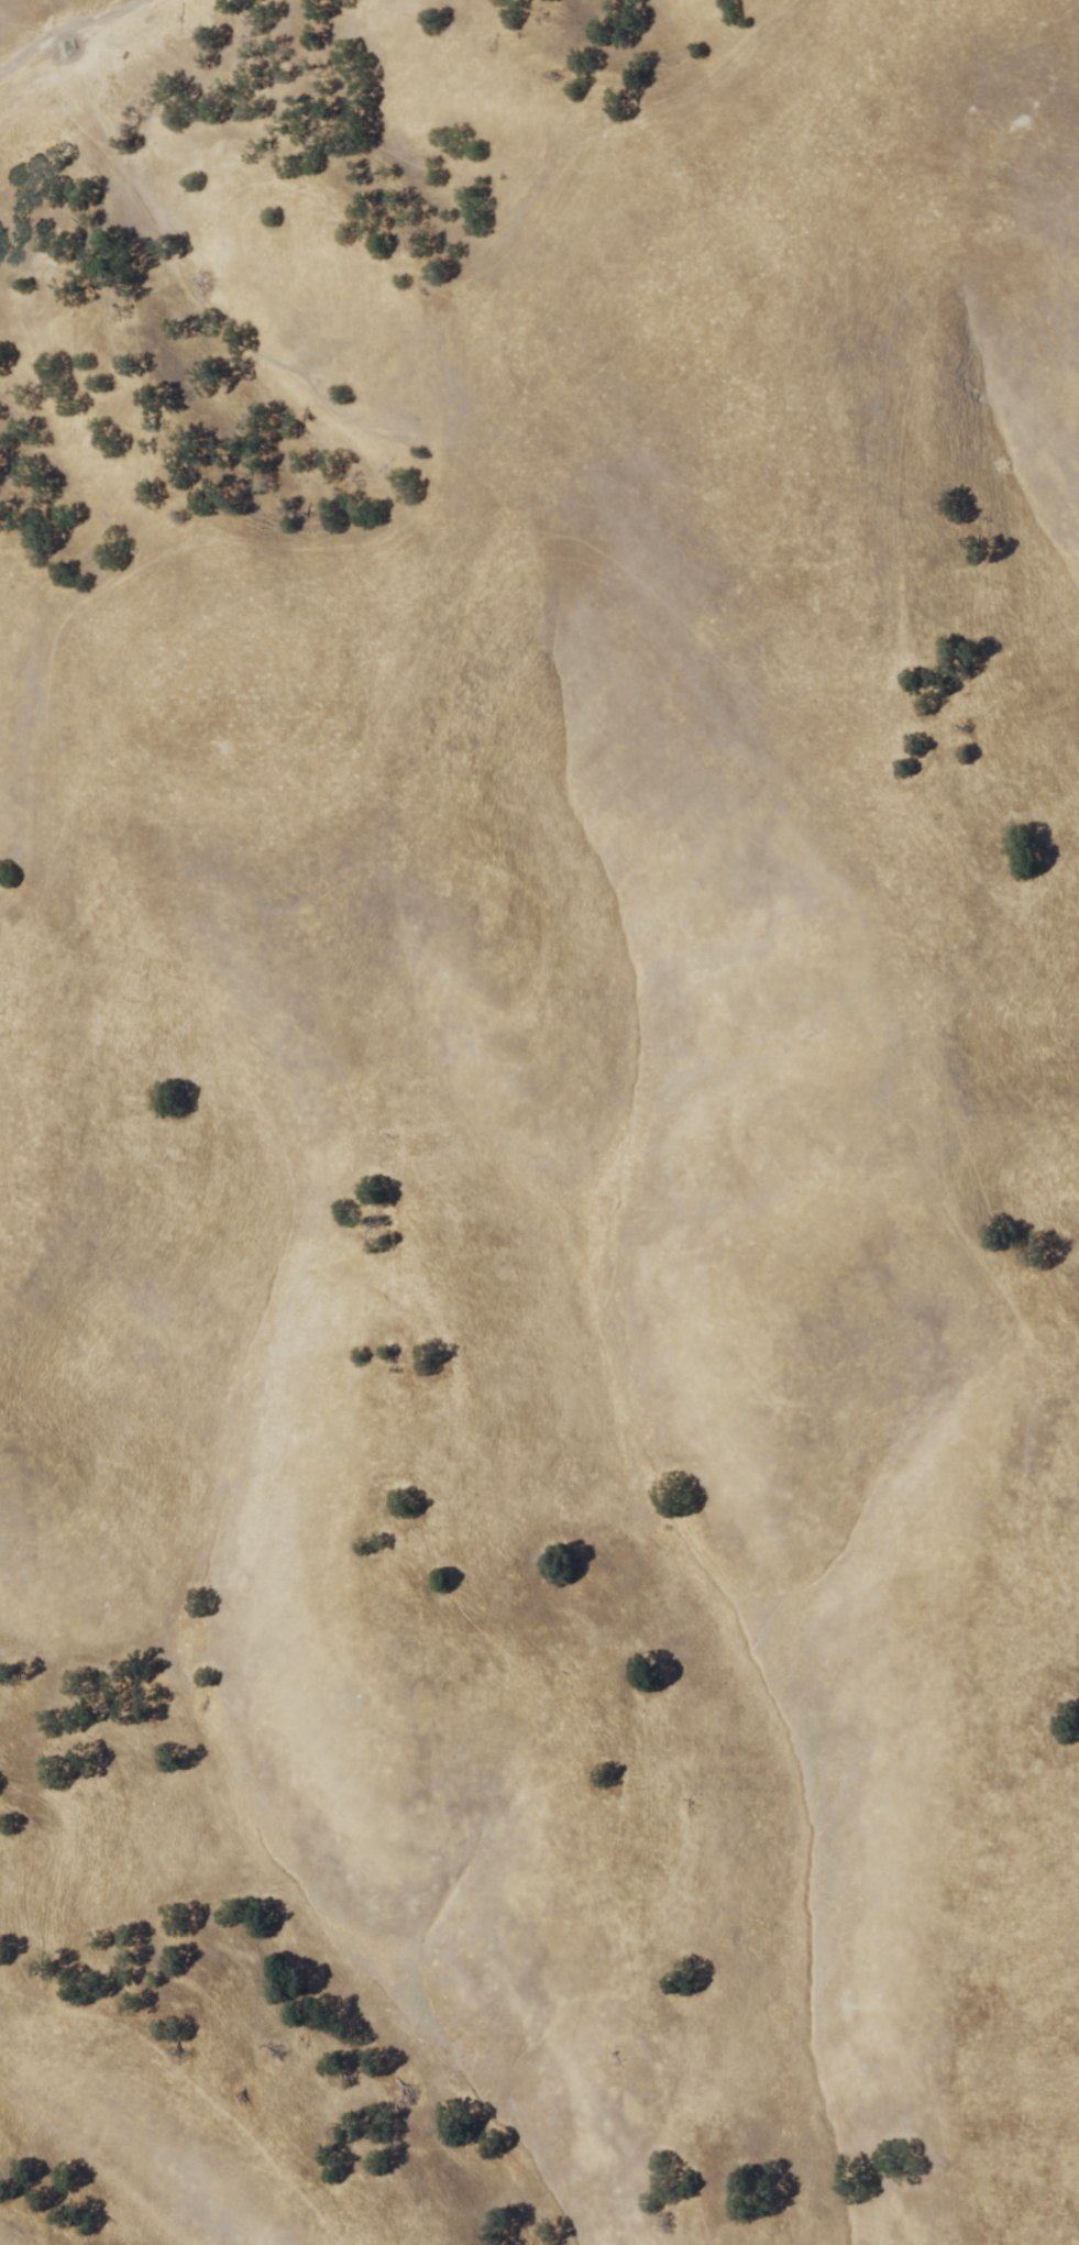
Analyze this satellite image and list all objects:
road: (76, 51)

